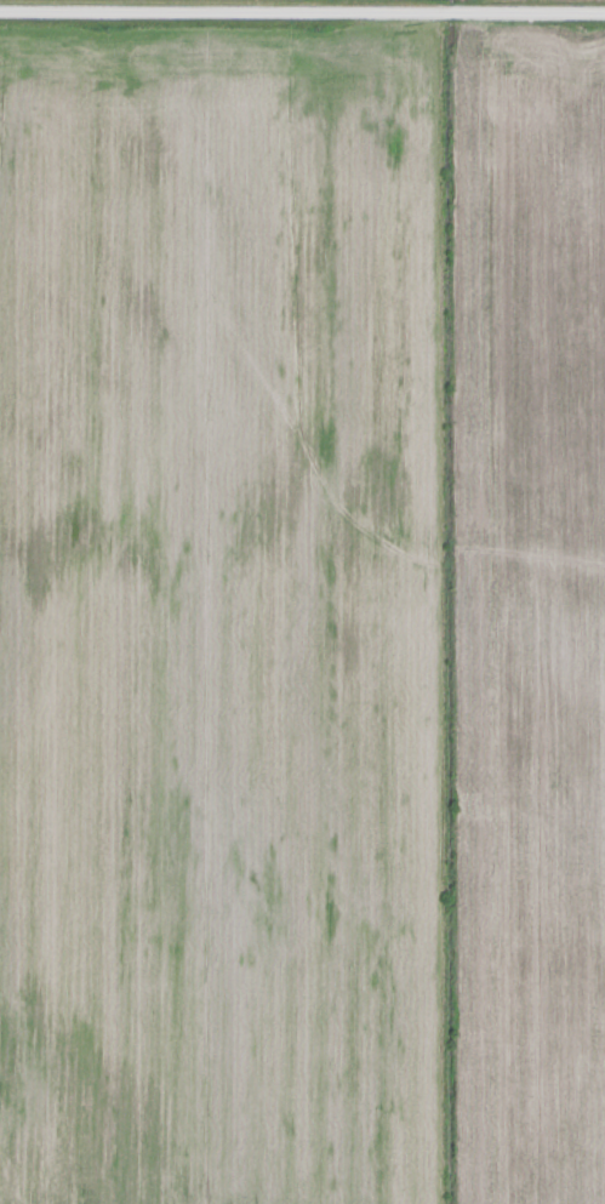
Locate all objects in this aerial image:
road: (302, 17)

